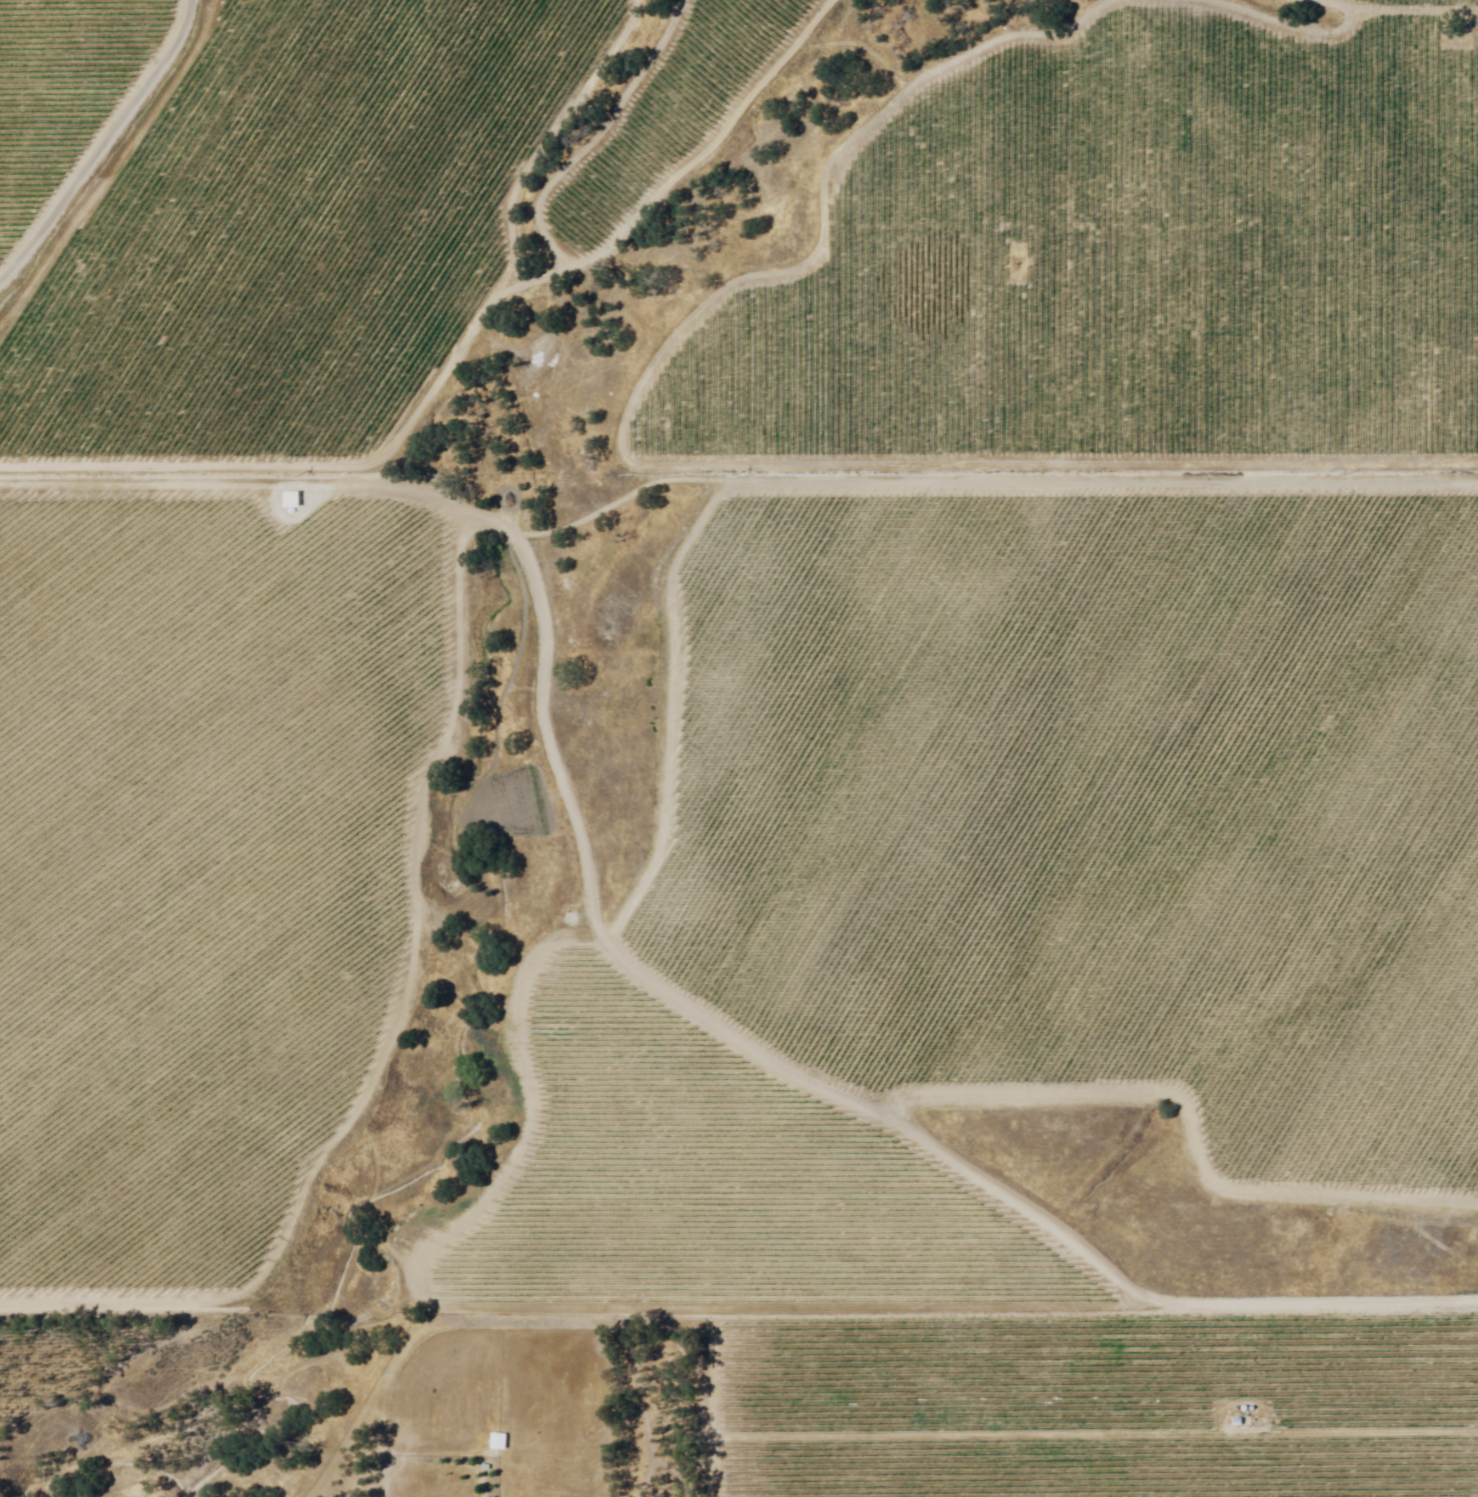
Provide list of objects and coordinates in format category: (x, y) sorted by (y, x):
building: (502, 1443)

